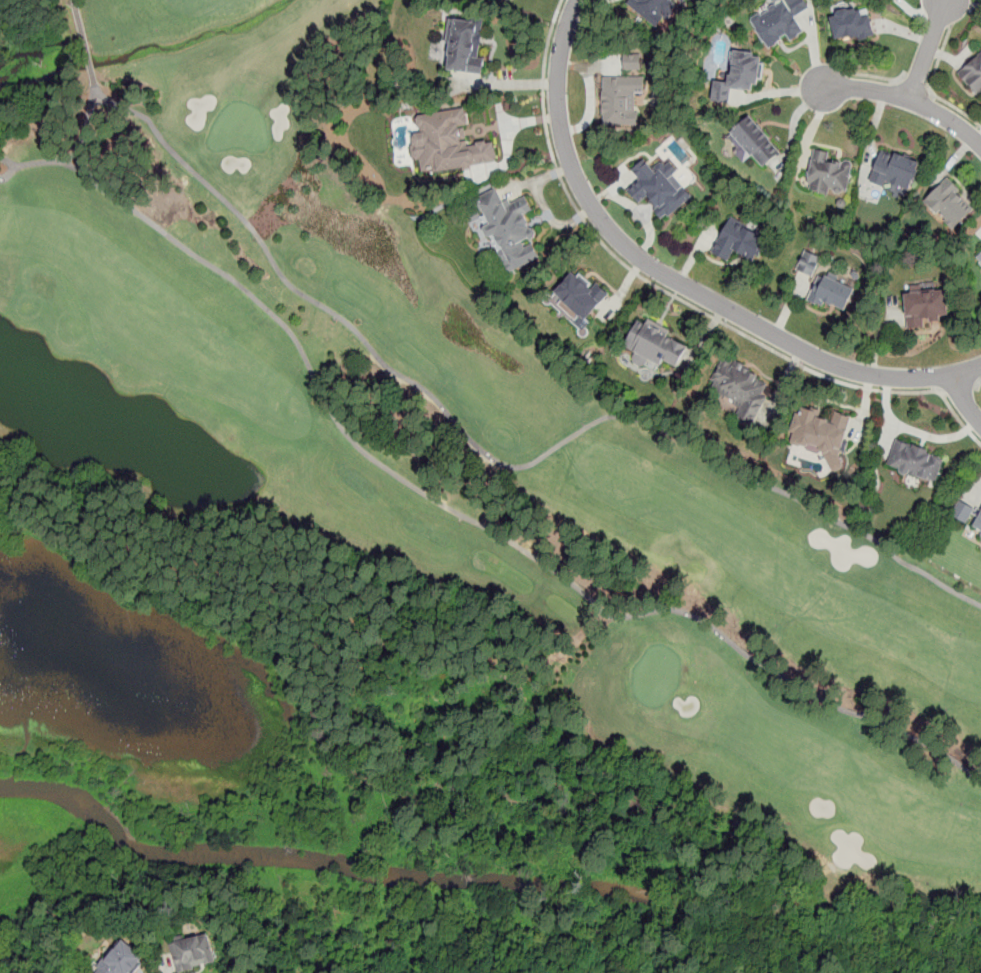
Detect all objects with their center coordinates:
building: (682, 0)
road: (946, 2)
road: (74, 4)
building: (654, 9)
building: (778, 21)
building: (852, 24)
building: (464, 46)
road: (928, 50)
building: (632, 61)
building: (973, 74)
building: (739, 75)
road: (876, 77)
road: (914, 84)
road: (930, 86)
road: (910, 97)
building: (620, 99)
road: (80, 130)
building: (449, 144)
building: (754, 144)
road: (70, 153)
road: (8, 161)
building: (895, 170)
road: (9, 171)
building: (827, 175)
building: (659, 187)
building: (947, 203)
building: (507, 228)
building: (740, 239)
building: (979, 258)
building: (807, 263)
road: (674, 283)
building: (832, 294)
road: (676, 295)
building: (579, 296)
building: (926, 307)
building: (656, 344)
road: (978, 384)
building: (738, 389)
road: (958, 390)
road: (964, 403)
road: (915, 431)
building: (819, 434)
road: (491, 457)
building: (915, 462)
building: (962, 510)
park: (391, 513)
road: (466, 517)
building: (978, 524)
building: (980, 538)
building: (193, 952)
building: (121, 959)

